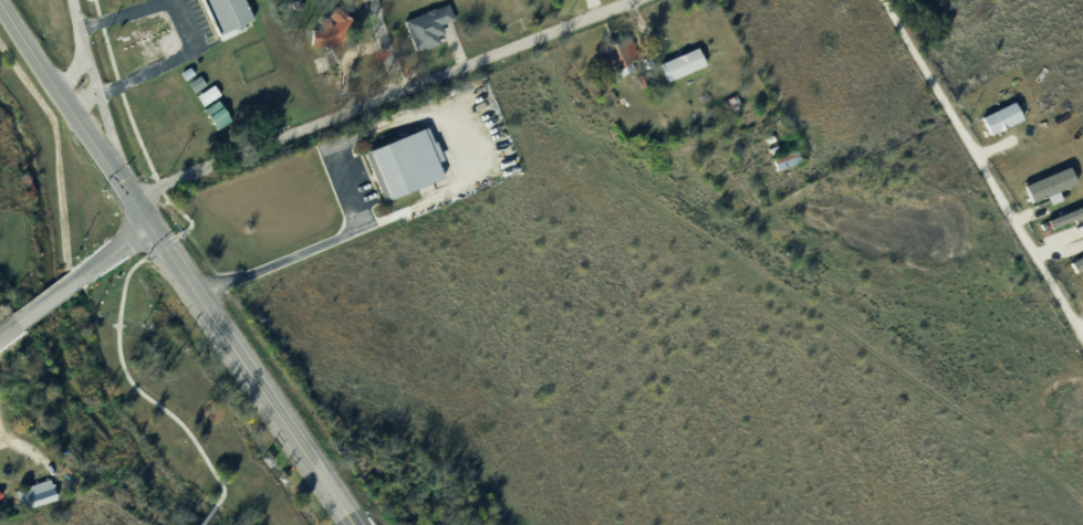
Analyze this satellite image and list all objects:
road: (115, 13)
building: (220, 18)
building: (423, 31)
building: (326, 33)
road: (387, 46)
road: (80, 63)
road: (163, 63)
building: (610, 64)
building: (676, 71)
building: (181, 78)
building: (192, 87)
road: (122, 92)
building: (210, 94)
road: (384, 99)
building: (204, 101)
building: (221, 113)
building: (998, 117)
building: (212, 119)
road: (350, 140)
building: (402, 168)
road: (986, 168)
building: (1048, 185)
park: (20, 211)
traffic signals: (148, 222)
road: (115, 246)
road: (177, 263)
road: (50, 294)
road: (9, 325)
road: (115, 350)
road: (18, 445)
building: (42, 491)
building: (0, 496)
building: (30, 501)

